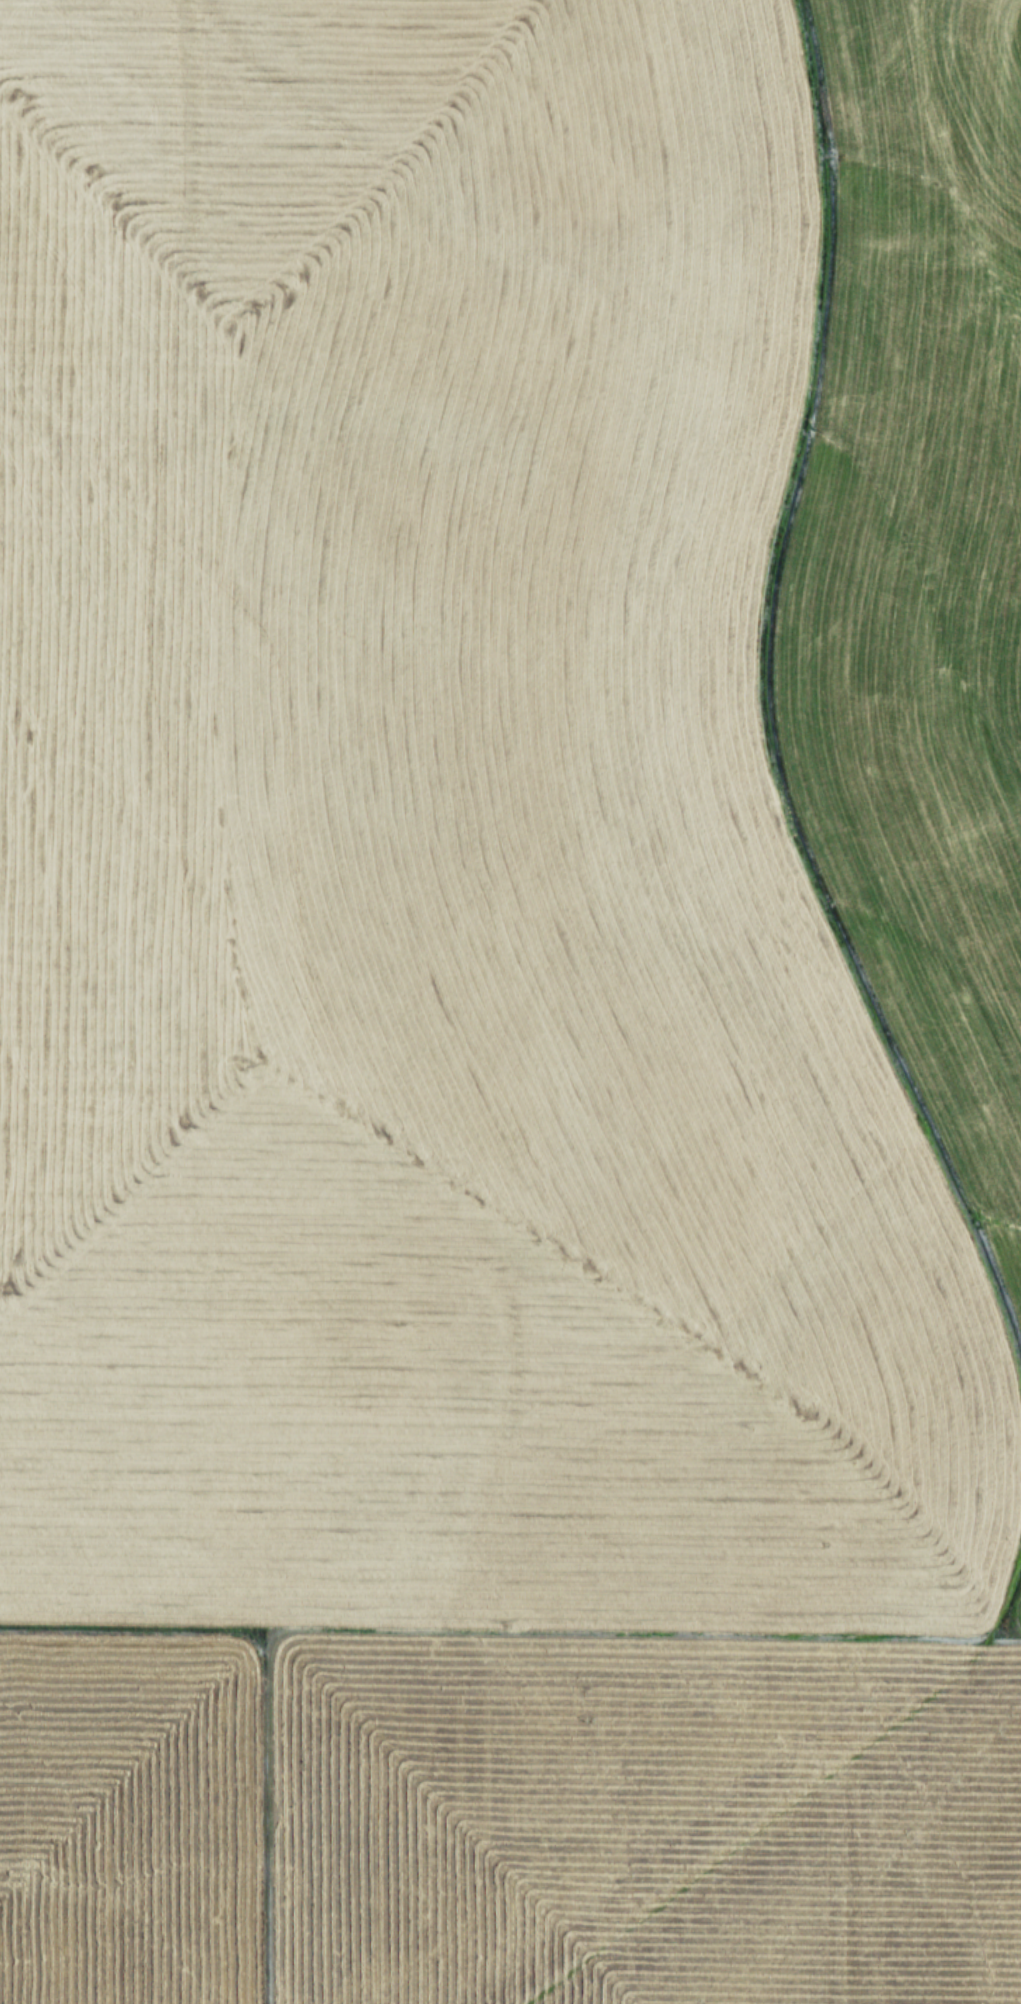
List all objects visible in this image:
crop: (510, 1002)

